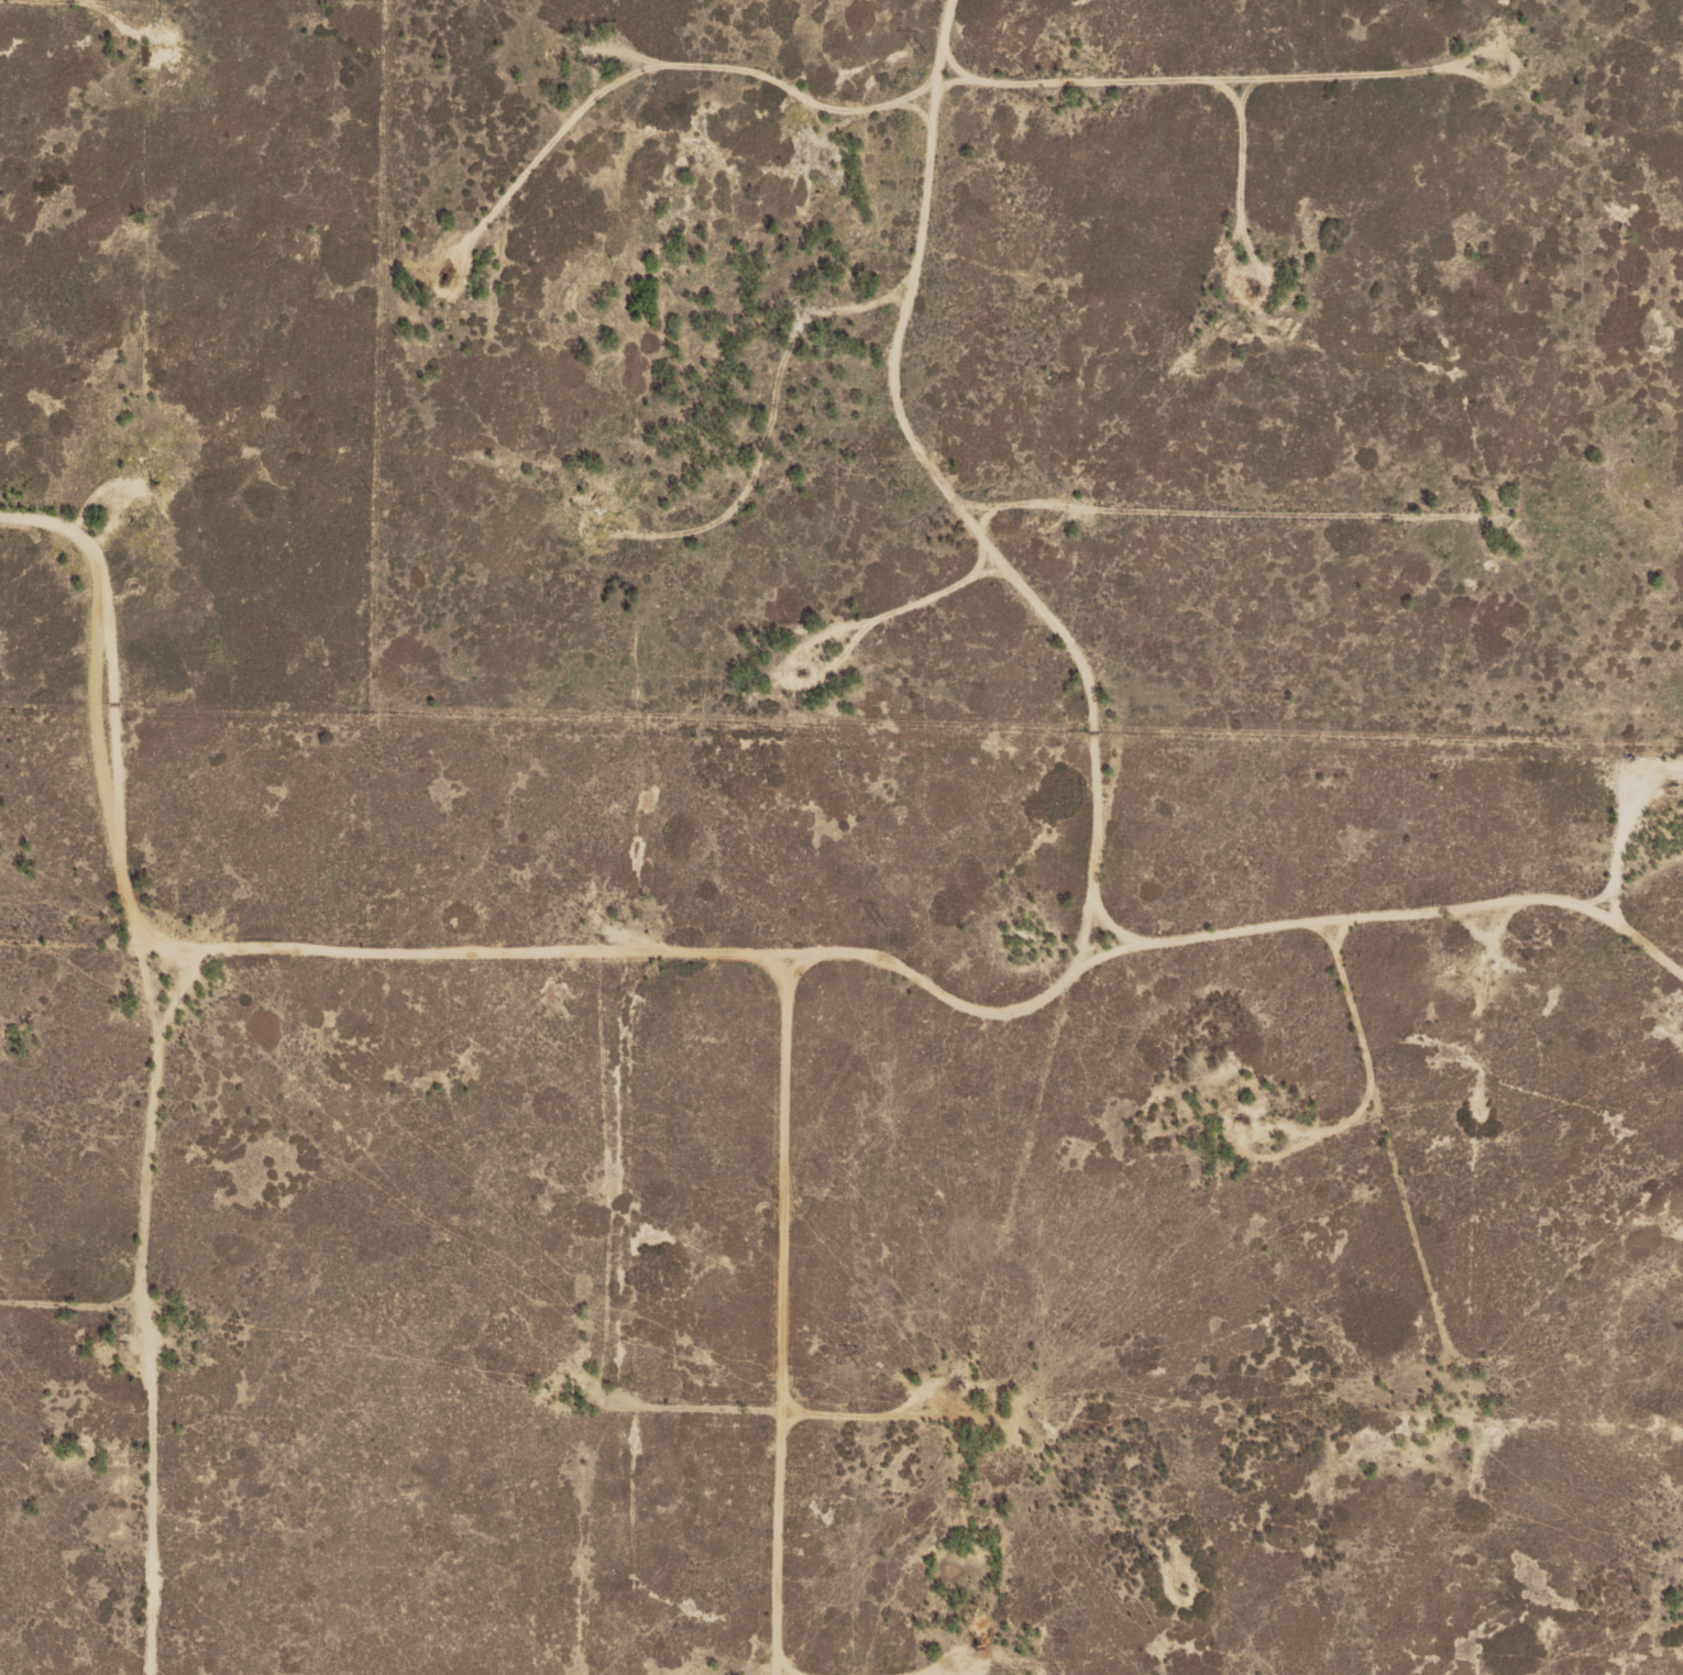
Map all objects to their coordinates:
power tower: (920, 54)
road: (801, 107)
road: (1163, 169)
road: (436, 249)
road: (893, 433)
road: (802, 476)
power tower: (902, 487)
road: (582, 489)
road: (1077, 529)
power tower: (883, 928)
road: (851, 979)
road: (1104, 1026)
road: (207, 1033)
road: (1508, 1315)
road: (843, 1330)
road: (96, 1331)
power tower: (861, 1368)
road: (710, 1418)

